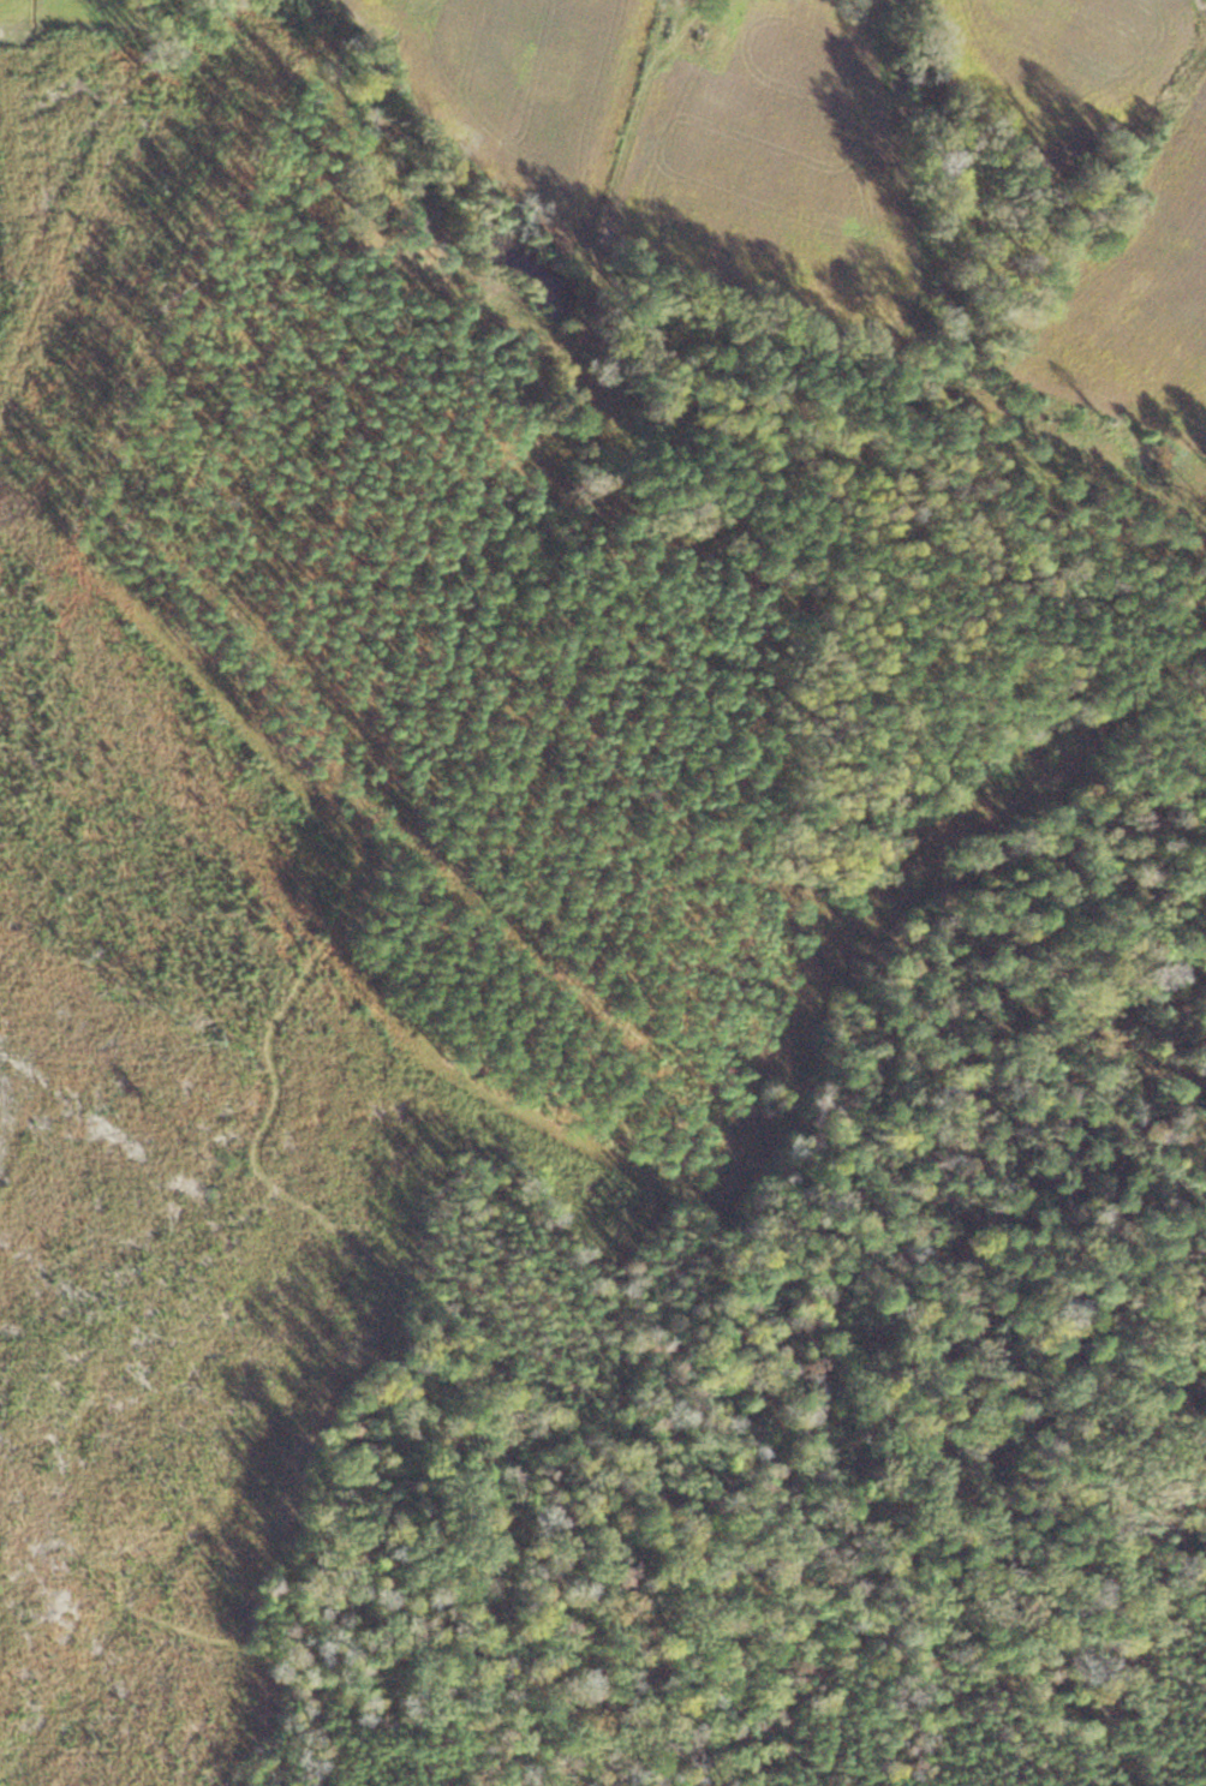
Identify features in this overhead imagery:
building: (701, 40)

